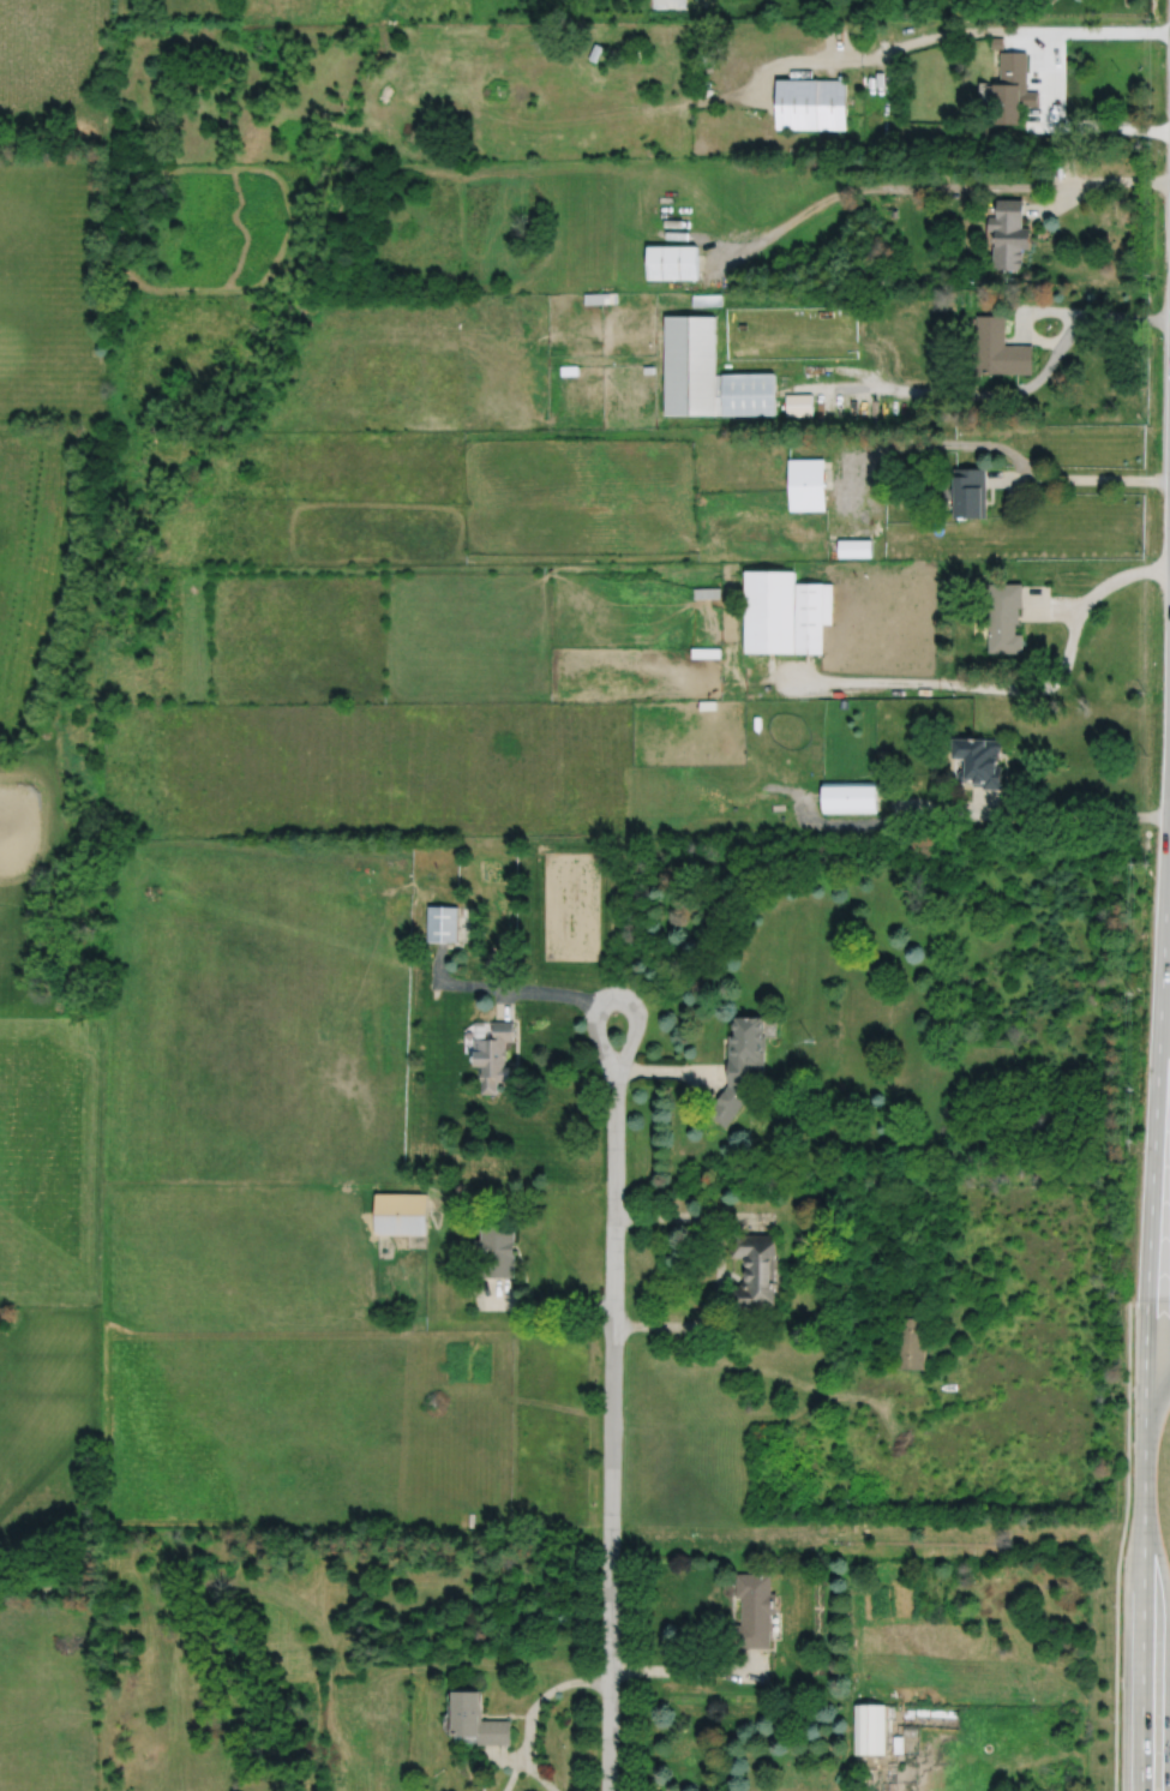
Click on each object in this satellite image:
road: (700, 1)
building: (667, 4)
road: (1106, 32)
building: (997, 42)
road: (1043, 50)
road: (888, 53)
building: (630, 54)
building: (1012, 89)
building: (810, 104)
road: (1088, 124)
road: (1127, 181)
road: (896, 184)
road: (1062, 204)
road: (690, 234)
building: (1008, 234)
building: (673, 263)
road: (718, 265)
building: (601, 299)
building: (708, 301)
road: (1024, 312)
road: (1130, 317)
road: (862, 349)
building: (998, 349)
building: (691, 365)
building: (570, 370)
building: (650, 371)
road: (833, 385)
building: (745, 394)
road: (1004, 394)
building: (798, 406)
road: (1004, 477)
road: (1093, 478)
building: (808, 481)
building: (968, 490)
road: (1010, 504)
building: (854, 546)
road: (1123, 577)
road: (1057, 606)
building: (772, 609)
building: (812, 613)
building: (1003, 615)
road: (950, 683)
building: (978, 760)
building: (848, 796)
road: (988, 802)
road: (1079, 815)
road: (869, 822)
building: (443, 922)
road: (515, 988)
building: (494, 1055)
building: (740, 1066)
road: (668, 1072)
building: (402, 1214)
road: (667, 1216)
road: (745, 1217)
building: (497, 1250)
building: (754, 1269)
road: (542, 1305)
road: (709, 1313)
road: (1145, 1329)
building: (910, 1342)
road: (1157, 1362)
road: (1157, 1372)
street lamp: (1126, 1377)
road: (613, 1406)
road: (773, 1415)
road: (1120, 1545)
street lamp: (1114, 1604)
building: (755, 1610)
road: (688, 1671)
road: (545, 1694)
building: (890, 1712)
building: (922, 1712)
building: (908, 1713)
building: (943, 1713)
building: (474, 1720)
street lamp: (1112, 1720)
building: (869, 1730)
building: (910, 1730)
road: (848, 1731)
building: (898, 1745)
road: (508, 1757)
road: (512, 1773)
road: (538, 1774)

